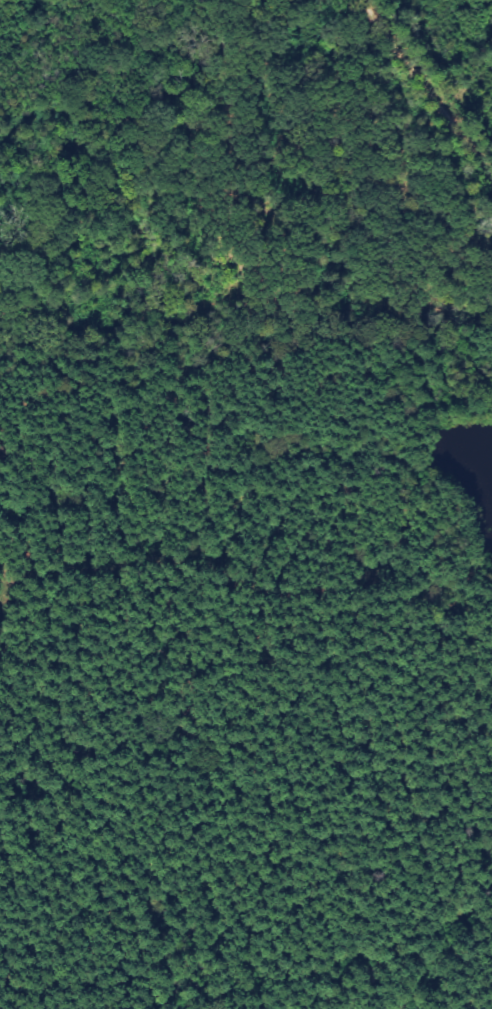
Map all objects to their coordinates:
road: (416, 97)

